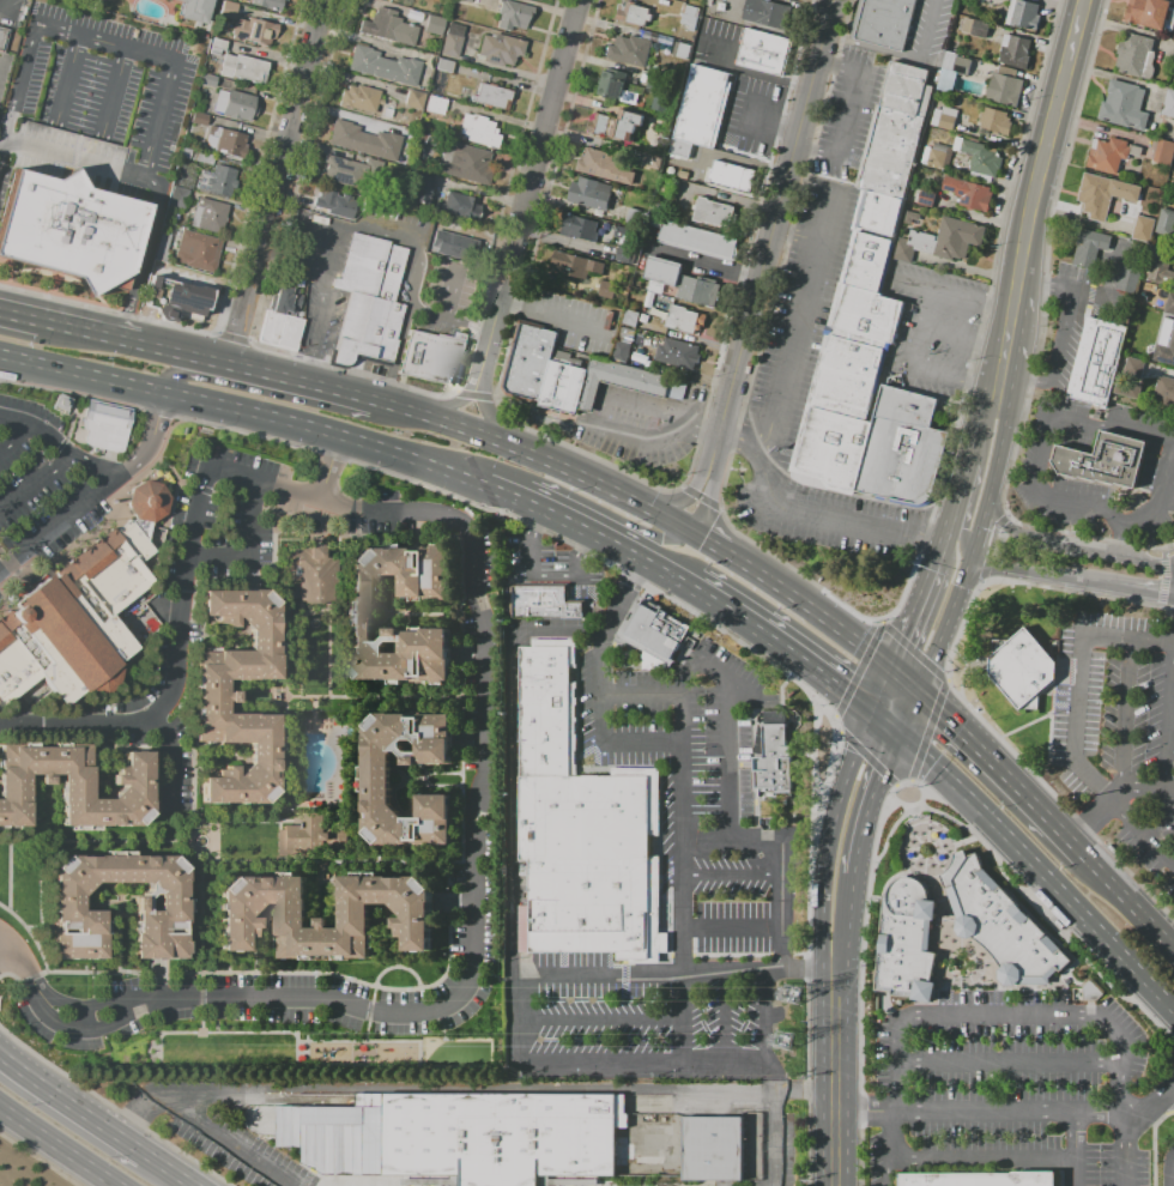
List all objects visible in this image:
building: (465, 0)
building: (270, 5)
road: (5, 10)
building: (194, 10)
building: (229, 11)
building: (767, 12)
building: (1148, 13)
building: (634, 14)
building: (512, 16)
building: (690, 16)
building: (1025, 16)
building: (884, 23)
building: (434, 25)
building: (387, 28)
building: (982, 30)
building: (254, 31)
road: (101, 40)
building: (452, 40)
building: (6, 44)
building: (218, 46)
building: (498, 50)
building: (630, 50)
building: (763, 52)
building: (1015, 52)
building: (1172, 53)
road: (897, 54)
building: (1136, 56)
building: (443, 65)
building: (383, 66)
building: (964, 67)
building: (243, 68)
road: (68, 74)
building: (207, 80)
building: (615, 87)
road: (115, 90)
building: (1004, 90)
building: (490, 97)
building: (357, 98)
building: (413, 99)
building: (1168, 104)
building: (435, 105)
building: (701, 105)
building: (1124, 105)
building: (240, 107)
building: (943, 117)
road: (846, 121)
building: (996, 121)
building: (618, 126)
building: (478, 131)
building: (895, 132)
building: (363, 141)
building: (228, 144)
road: (1051, 146)
building: (679, 147)
road: (806, 150)
building: (1163, 152)
building: (1107, 155)
building: (937, 156)
building: (980, 158)
road: (74, 159)
road: (737, 161)
building: (653, 163)
building: (464, 164)
building: (595, 165)
building: (349, 171)
building: (732, 175)
road: (276, 180)
building: (216, 181)
building: (420, 189)
building: (591, 193)
building: (1096, 195)
building: (976, 196)
road: (528, 198)
building: (177, 199)
building: (926, 199)
building: (334, 205)
building: (461, 206)
building: (377, 207)
building: (718, 210)
building: (879, 214)
building: (208, 216)
building: (636, 216)
building: (912, 217)
building: (715, 220)
building: (1166, 223)
building: (1143, 228)
building: (69, 229)
building: (581, 229)
building: (624, 235)
road: (769, 236)
road: (799, 237)
building: (957, 238)
road: (562, 241)
building: (698, 241)
building: (447, 243)
building: (913, 246)
building: (1089, 247)
building: (196, 250)
road: (143, 255)
building: (624, 255)
building: (867, 261)
road: (703, 262)
building: (577, 266)
building: (370, 268)
road: (418, 271)
building: (1160, 272)
building: (1126, 278)
building: (682, 282)
road: (1046, 284)
building: (446, 286)
road: (939, 291)
building: (1152, 291)
road: (326, 292)
building: (175, 297)
building: (284, 301)
building: (1169, 304)
road: (999, 308)
road: (22, 314)
road: (450, 316)
building: (865, 316)
building: (1146, 319)
building: (683, 320)
road: (918, 326)
road: (805, 327)
building: (271, 328)
building: (367, 331)
building: (290, 333)
road: (107, 334)
road: (948, 335)
road: (1007, 343)
road: (992, 349)
building: (622, 350)
building: (1166, 351)
building: (677, 353)
road: (395, 355)
road: (1053, 357)
building: (432, 358)
building: (521, 361)
building: (1097, 361)
building: (540, 367)
road: (310, 370)
road: (273, 371)
road: (177, 374)
road: (939, 374)
building: (845, 377)
building: (1130, 379)
building: (623, 383)
road: (984, 387)
building: (565, 389)
building: (1164, 392)
road: (615, 401)
building: (62, 403)
road: (450, 406)
road: (244, 416)
road: (494, 419)
road: (1112, 422)
building: (72, 424)
building: (107, 425)
road: (736, 431)
road: (973, 434)
road: (1003, 436)
road: (12, 437)
road: (55, 447)
building: (830, 448)
building: (902, 448)
road: (535, 454)
building: (1103, 460)
road: (329, 470)
road: (34, 482)
road: (95, 489)
parking lot: (49, 490)
traffic signals: (691, 497)
building: (149, 501)
road: (673, 502)
road: (707, 504)
road: (804, 512)
road: (1093, 515)
road: (568, 516)
road: (982, 520)
road: (951, 521)
road: (960, 524)
road: (662, 537)
traffic signals: (658, 539)
traffic signals: (960, 539)
road: (708, 541)
traffic signals: (709, 543)
road: (922, 543)
road: (1065, 546)
road: (250, 552)
parking lot: (549, 559)
road: (670, 571)
building: (313, 575)
road: (1069, 575)
road: (545, 579)
road: (1170, 588)
traffic signals: (963, 589)
building: (546, 601)
road: (812, 613)
building: (358, 615)
road: (918, 618)
building: (79, 619)
road: (948, 628)
road: (757, 629)
building: (658, 633)
building: (1021, 668)
traffic signals: (894, 676)
road: (1081, 682)
road: (906, 685)
road: (847, 694)
road: (884, 695)
building: (216, 696)
road: (667, 696)
traffic signals: (919, 696)
road: (161, 708)
traffic signals: (875, 715)
road: (910, 715)
road: (1128, 718)
road: (731, 720)
road: (888, 725)
road: (79, 727)
parking lot: (1120, 731)
road: (1168, 731)
traffic signals: (902, 736)
road: (654, 746)
building: (777, 762)
road: (486, 766)
road: (171, 769)
road: (944, 771)
road: (1006, 771)
building: (376, 777)
building: (78, 787)
road: (880, 787)
building: (102, 788)
road: (1116, 798)
road: (841, 799)
road: (1162, 824)
building: (581, 827)
road: (1143, 834)
building: (311, 836)
road: (783, 852)
parking lot: (719, 860)
road: (1173, 864)
road: (857, 865)
road: (734, 875)
building: (163, 896)
road: (1131, 900)
road: (1079, 906)
road: (734, 914)
building: (291, 915)
building: (1000, 925)
road: (833, 926)
road: (845, 926)
building: (907, 943)
road: (5, 952)
road: (679, 973)
building: (1088, 990)
power tower: (793, 996)
road: (1001, 1013)
road: (767, 1015)
road: (684, 1016)
road: (726, 1016)
road: (522, 1017)
road: (603, 1021)
power tower: (787, 1042)
road: (645, 1060)
road: (1010, 1063)
road: (835, 1073)
road: (771, 1075)
parking lot: (1015, 1089)
road: (1173, 1093)
road: (72, 1103)
road: (1010, 1107)
road: (776, 1108)
road: (859, 1109)
road: (201, 1128)
building: (462, 1137)
road: (61, 1144)
road: (1155, 1144)
road: (1071, 1145)
building: (724, 1146)
road: (1124, 1158)
road: (978, 1160)
road: (173, 1169)
road: (1172, 1172)
building: (981, 1179)

